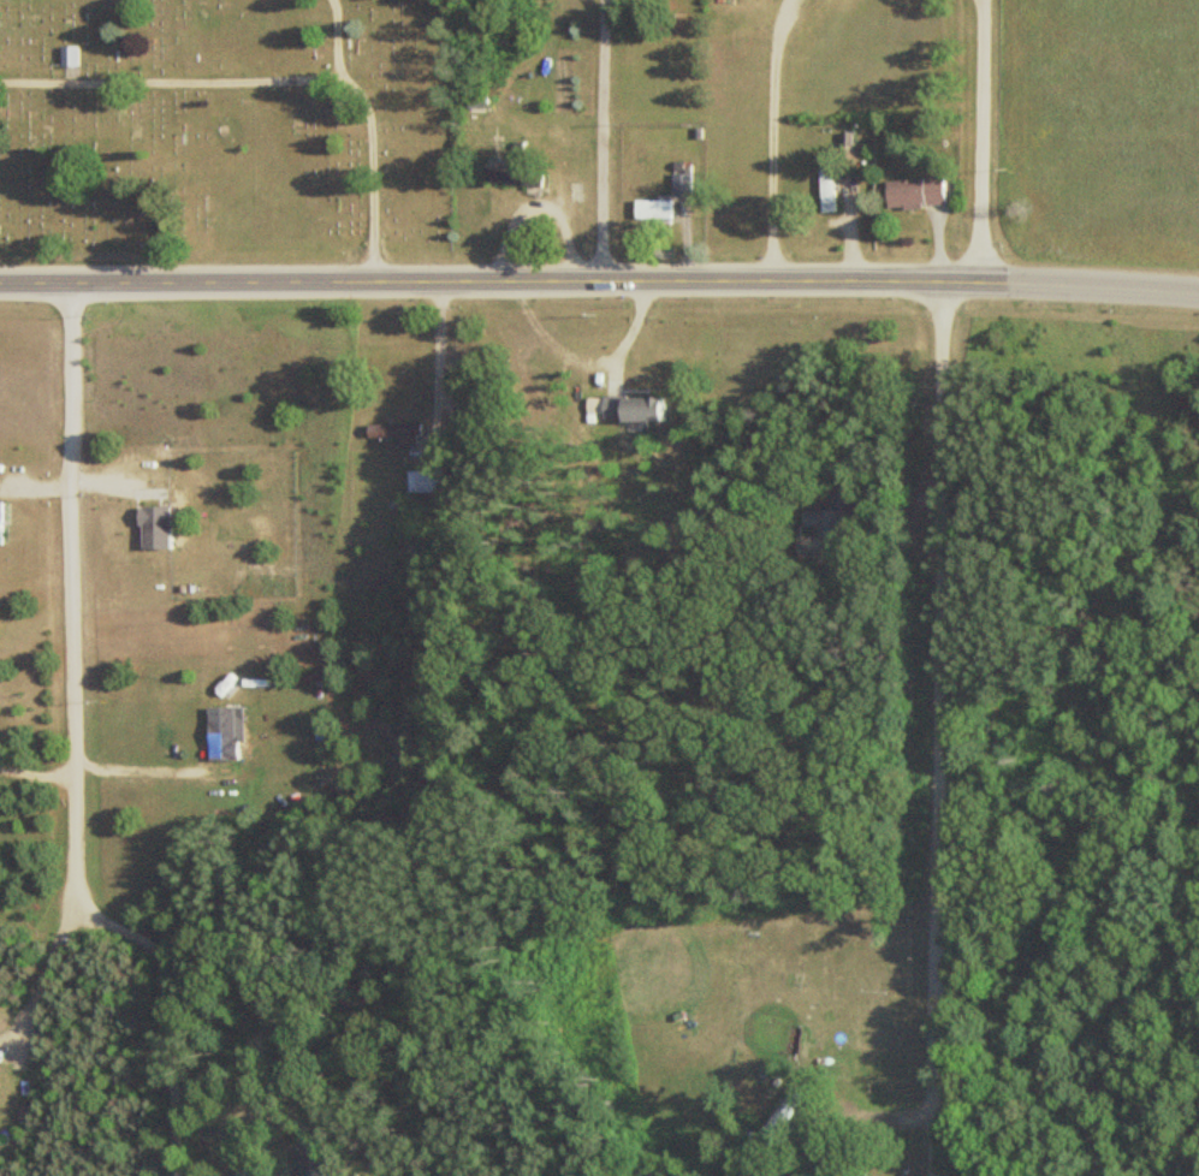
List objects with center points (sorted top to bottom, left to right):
road: (983, 0)
building: (76, 55)
road: (168, 79)
building: (475, 102)
park: (225, 121)
road: (370, 136)
road: (772, 138)
road: (983, 141)
road: (603, 142)
building: (679, 185)
building: (823, 190)
building: (910, 194)
building: (649, 210)
road: (488, 284)
road: (1088, 287)
building: (633, 409)
building: (392, 432)
building: (423, 480)
building: (835, 515)
building: (1, 522)
road: (73, 602)
road: (936, 729)
building: (221, 733)
road: (138, 773)
road: (36, 777)
road: (44, 986)
road: (176, 1015)

